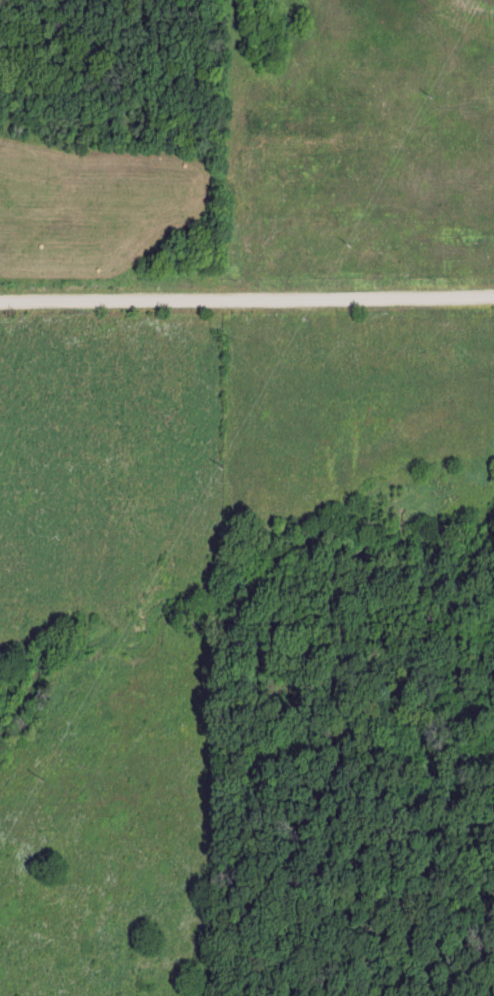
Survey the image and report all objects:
road: (247, 296)

